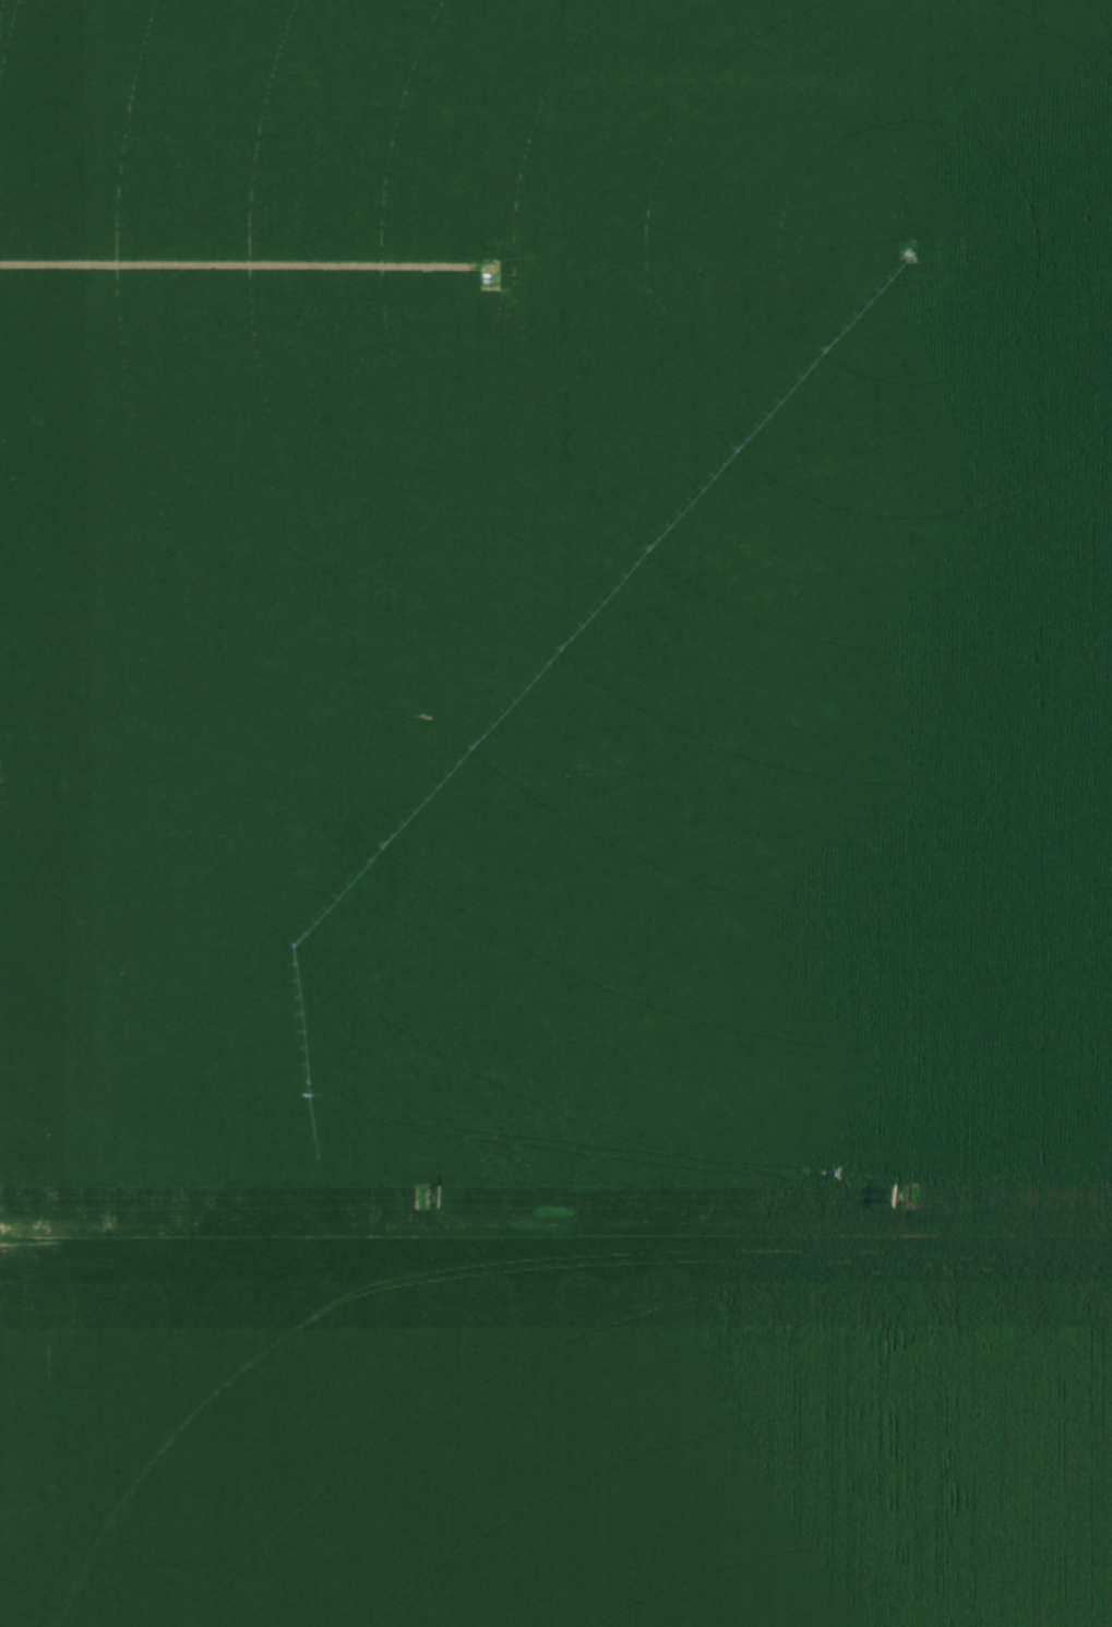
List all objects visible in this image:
power tower: (421, 1198)
power tower: (916, 1198)

